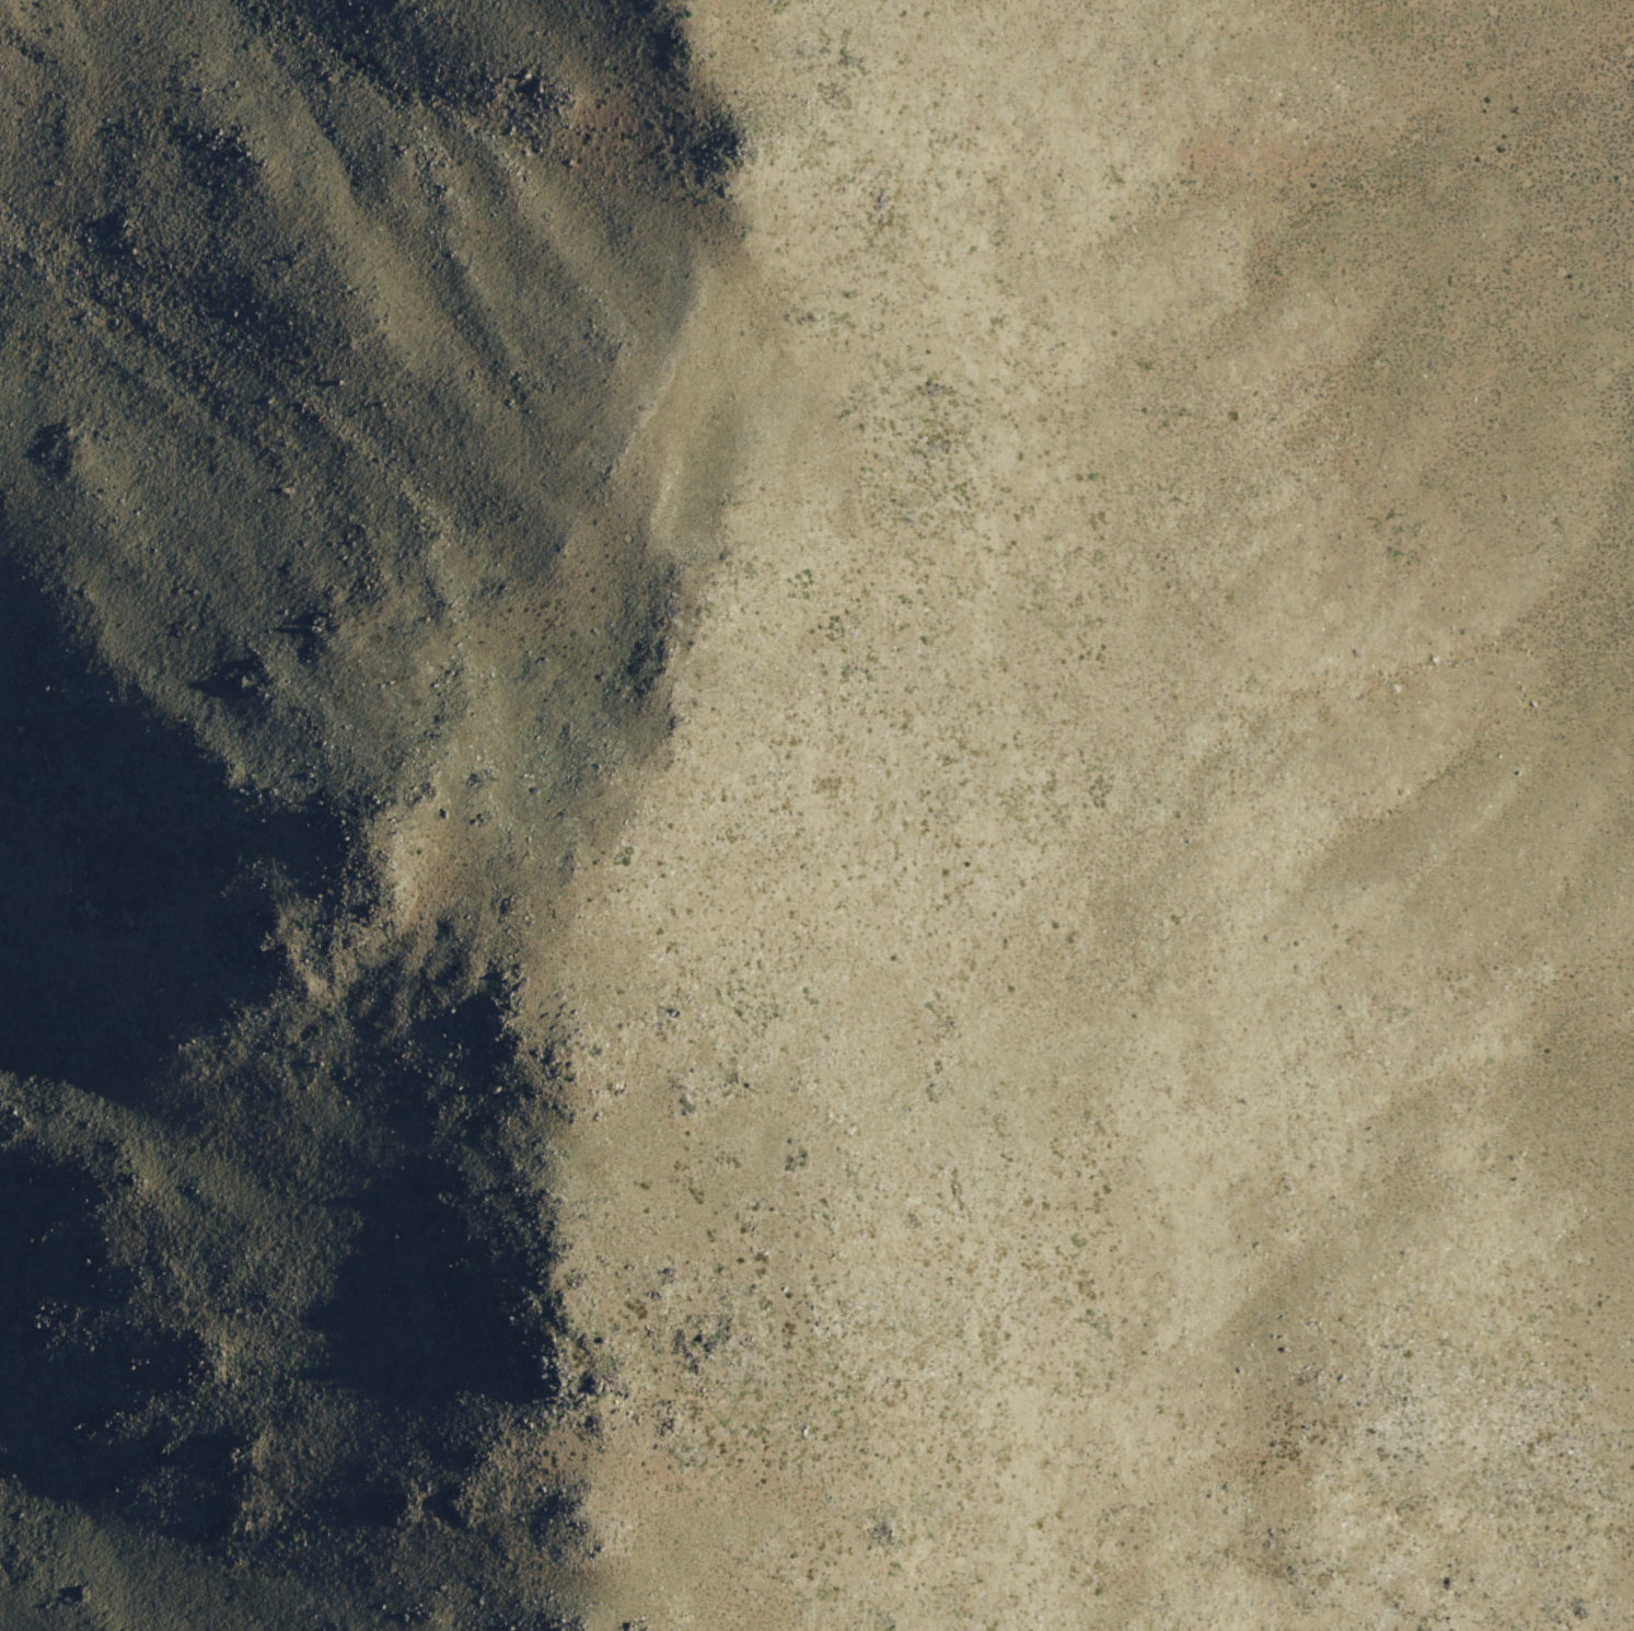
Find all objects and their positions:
crop: (1488, 365)

